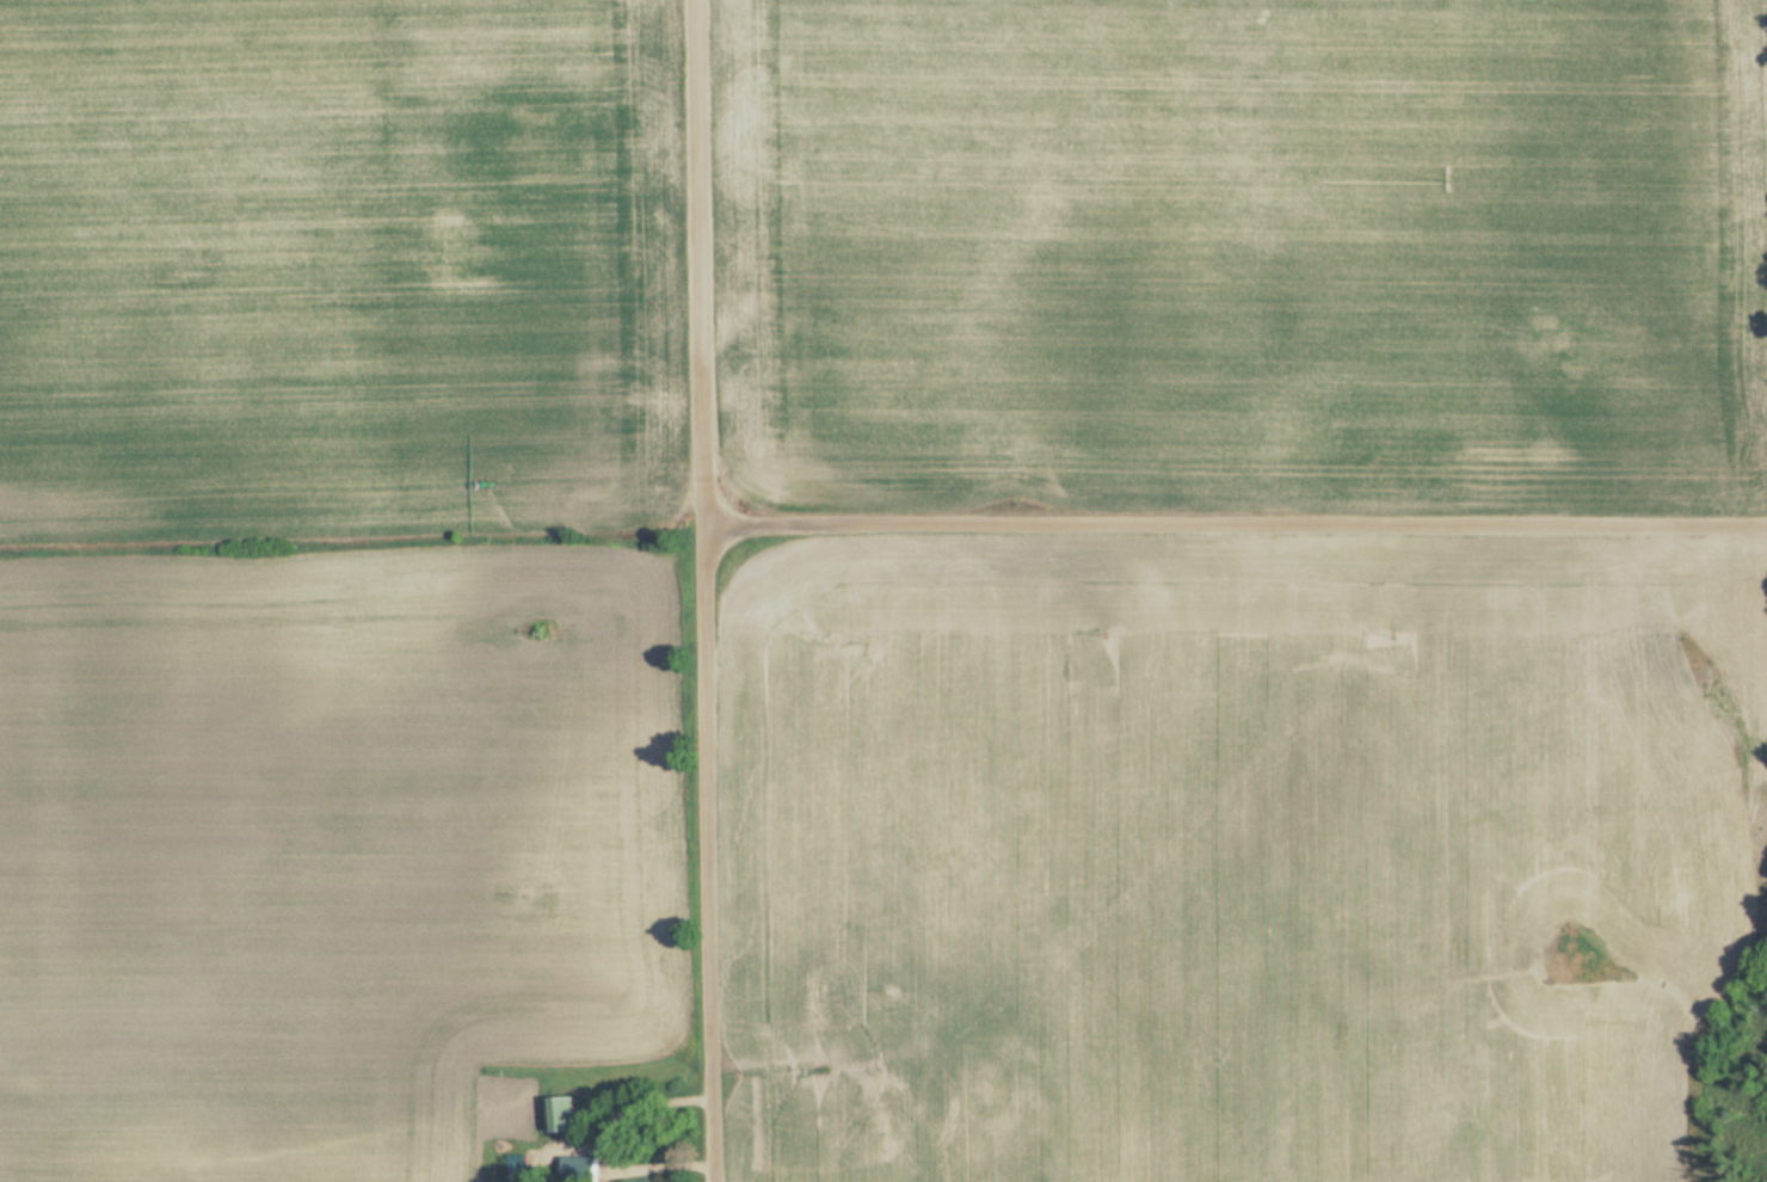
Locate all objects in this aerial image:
road: (1233, 523)
road: (702, 590)
building: (560, 1115)
road: (591, 1141)
building: (515, 1168)
building: (574, 1170)

